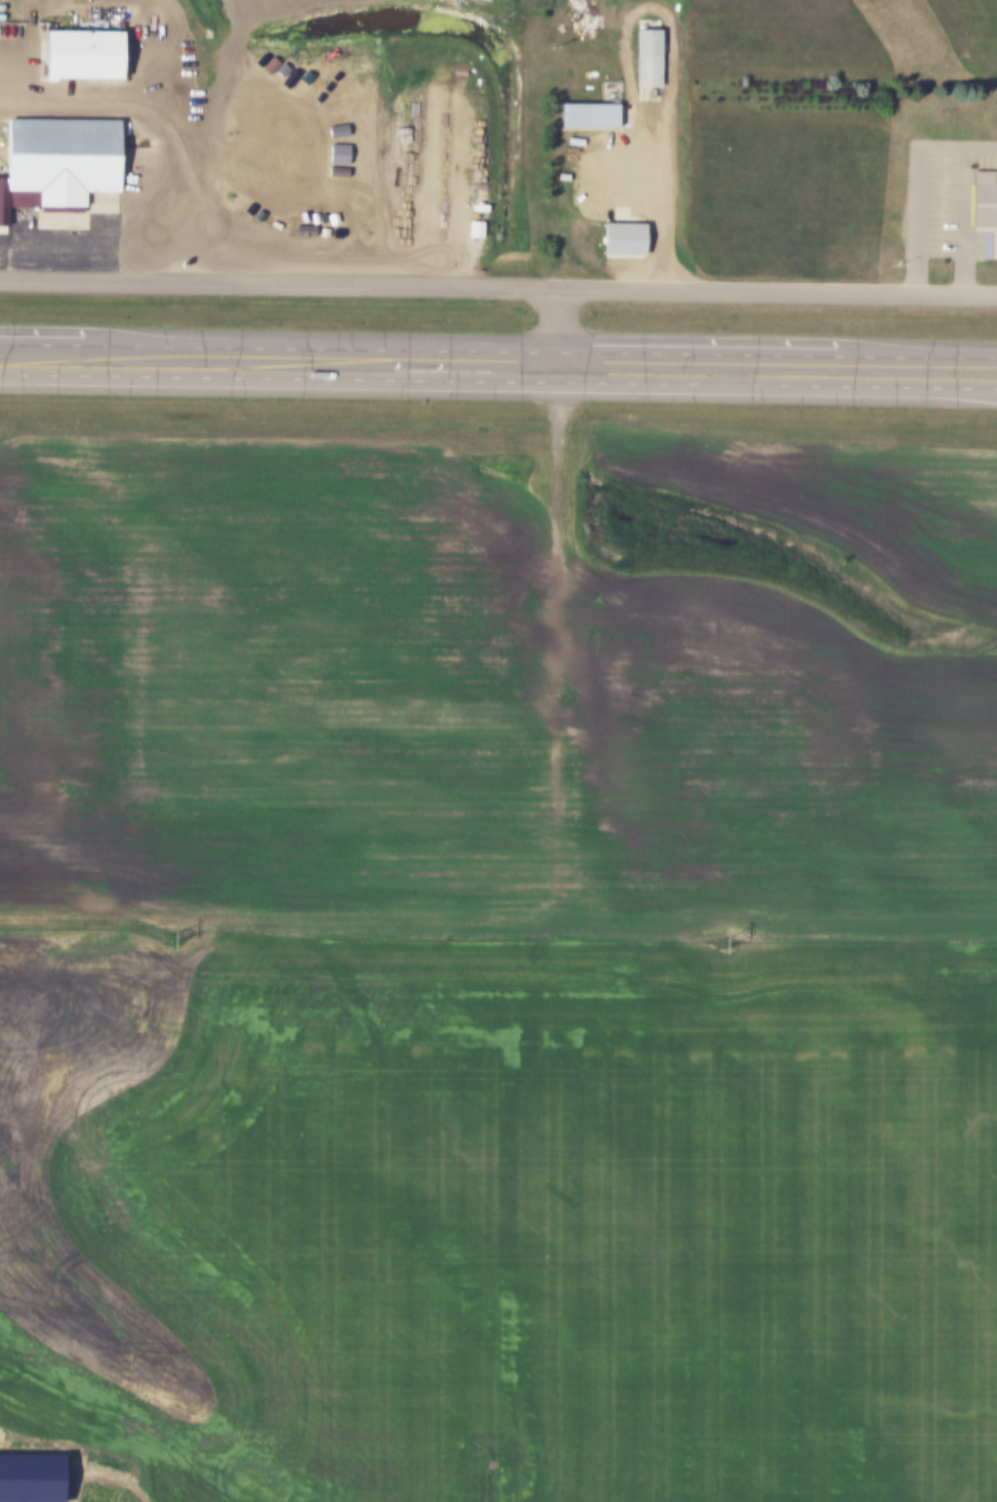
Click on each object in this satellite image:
building: (645, 50)
building: (79, 55)
building: (585, 109)
storage tank: (229, 112)
storage tank: (237, 112)
storage tank: (245, 112)
storage tank: (257, 114)
storage tank: (268, 114)
storage tank: (279, 114)
storage tank: (291, 115)
storage tank: (229, 120)
storage tank: (237, 120)
storage tank: (245, 120)
storage tank: (257, 127)
storage tank: (267, 127)
storage tank: (279, 127)
storage tank: (291, 127)
storage tank: (246, 128)
building: (56, 162)
road: (667, 195)
building: (226, 206)
building: (984, 206)
building: (620, 234)
road: (498, 286)
road: (498, 350)
road: (498, 383)
road: (540, 916)

